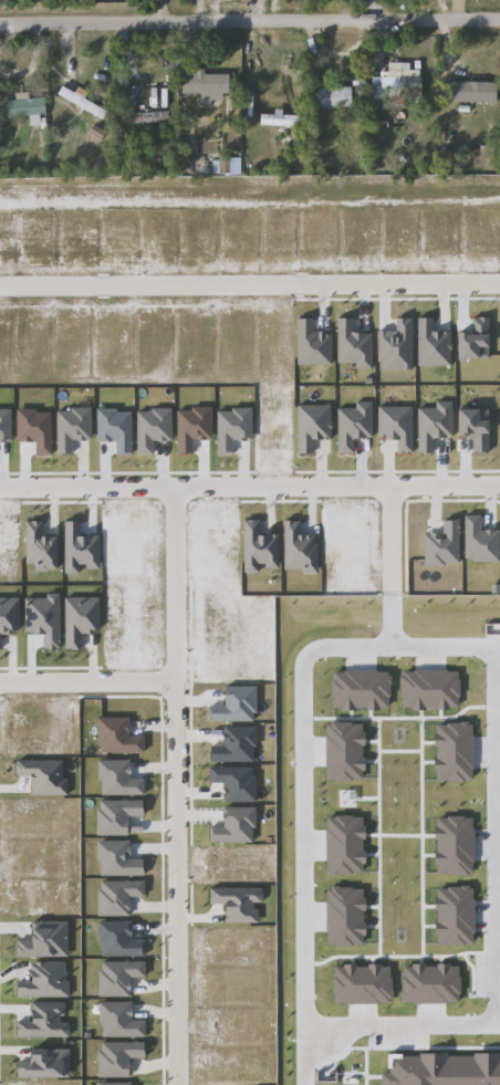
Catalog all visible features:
road: (253, 9)
road: (375, 9)
road: (455, 9)
road: (198, 10)
road: (249, 19)
road: (67, 49)
road: (126, 51)
road: (312, 71)
road: (444, 81)
building: (209, 86)
building: (399, 86)
building: (475, 92)
building: (337, 97)
building: (84, 103)
building: (29, 108)
building: (281, 119)
road: (250, 284)
road: (250, 484)
road: (389, 555)
road: (85, 684)
road: (304, 768)
road: (170, 785)
road: (493, 837)
road: (403, 1027)

